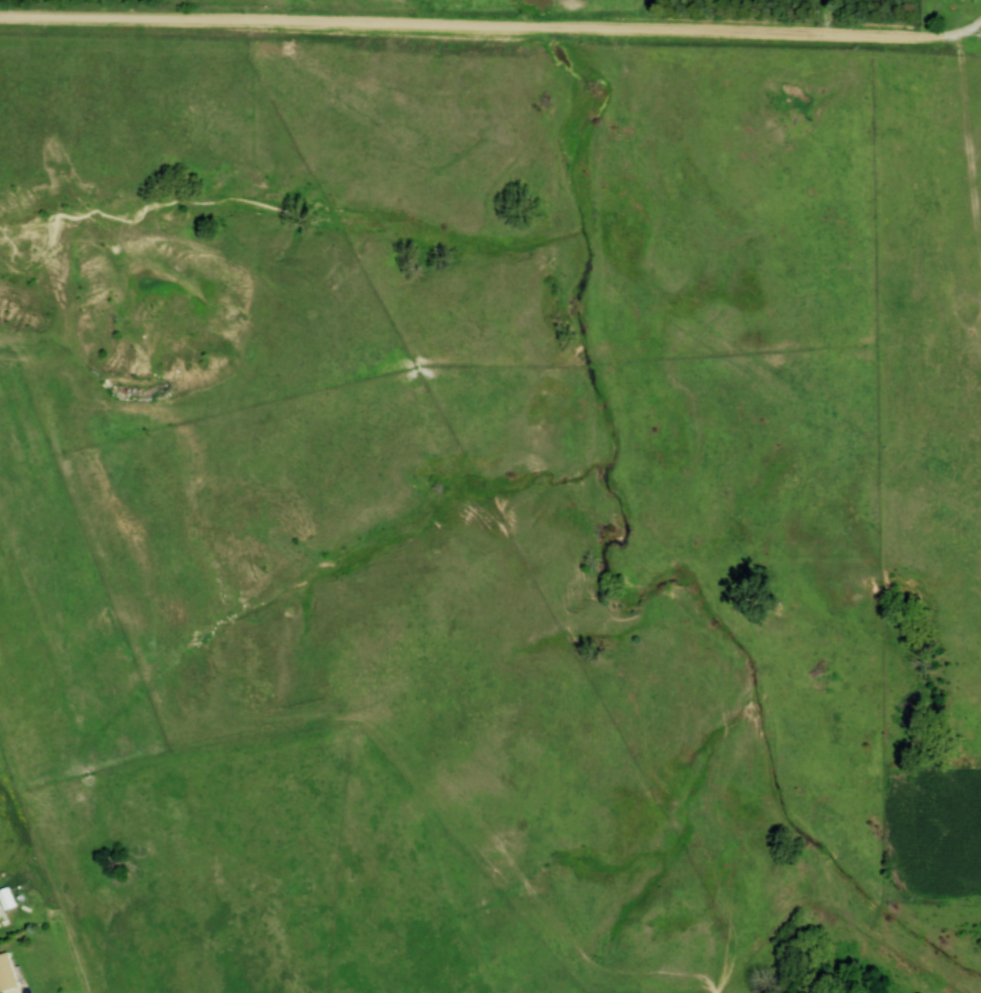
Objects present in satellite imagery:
road: (465, 26)
road: (957, 33)
building: (7, 899)
building: (7, 975)

